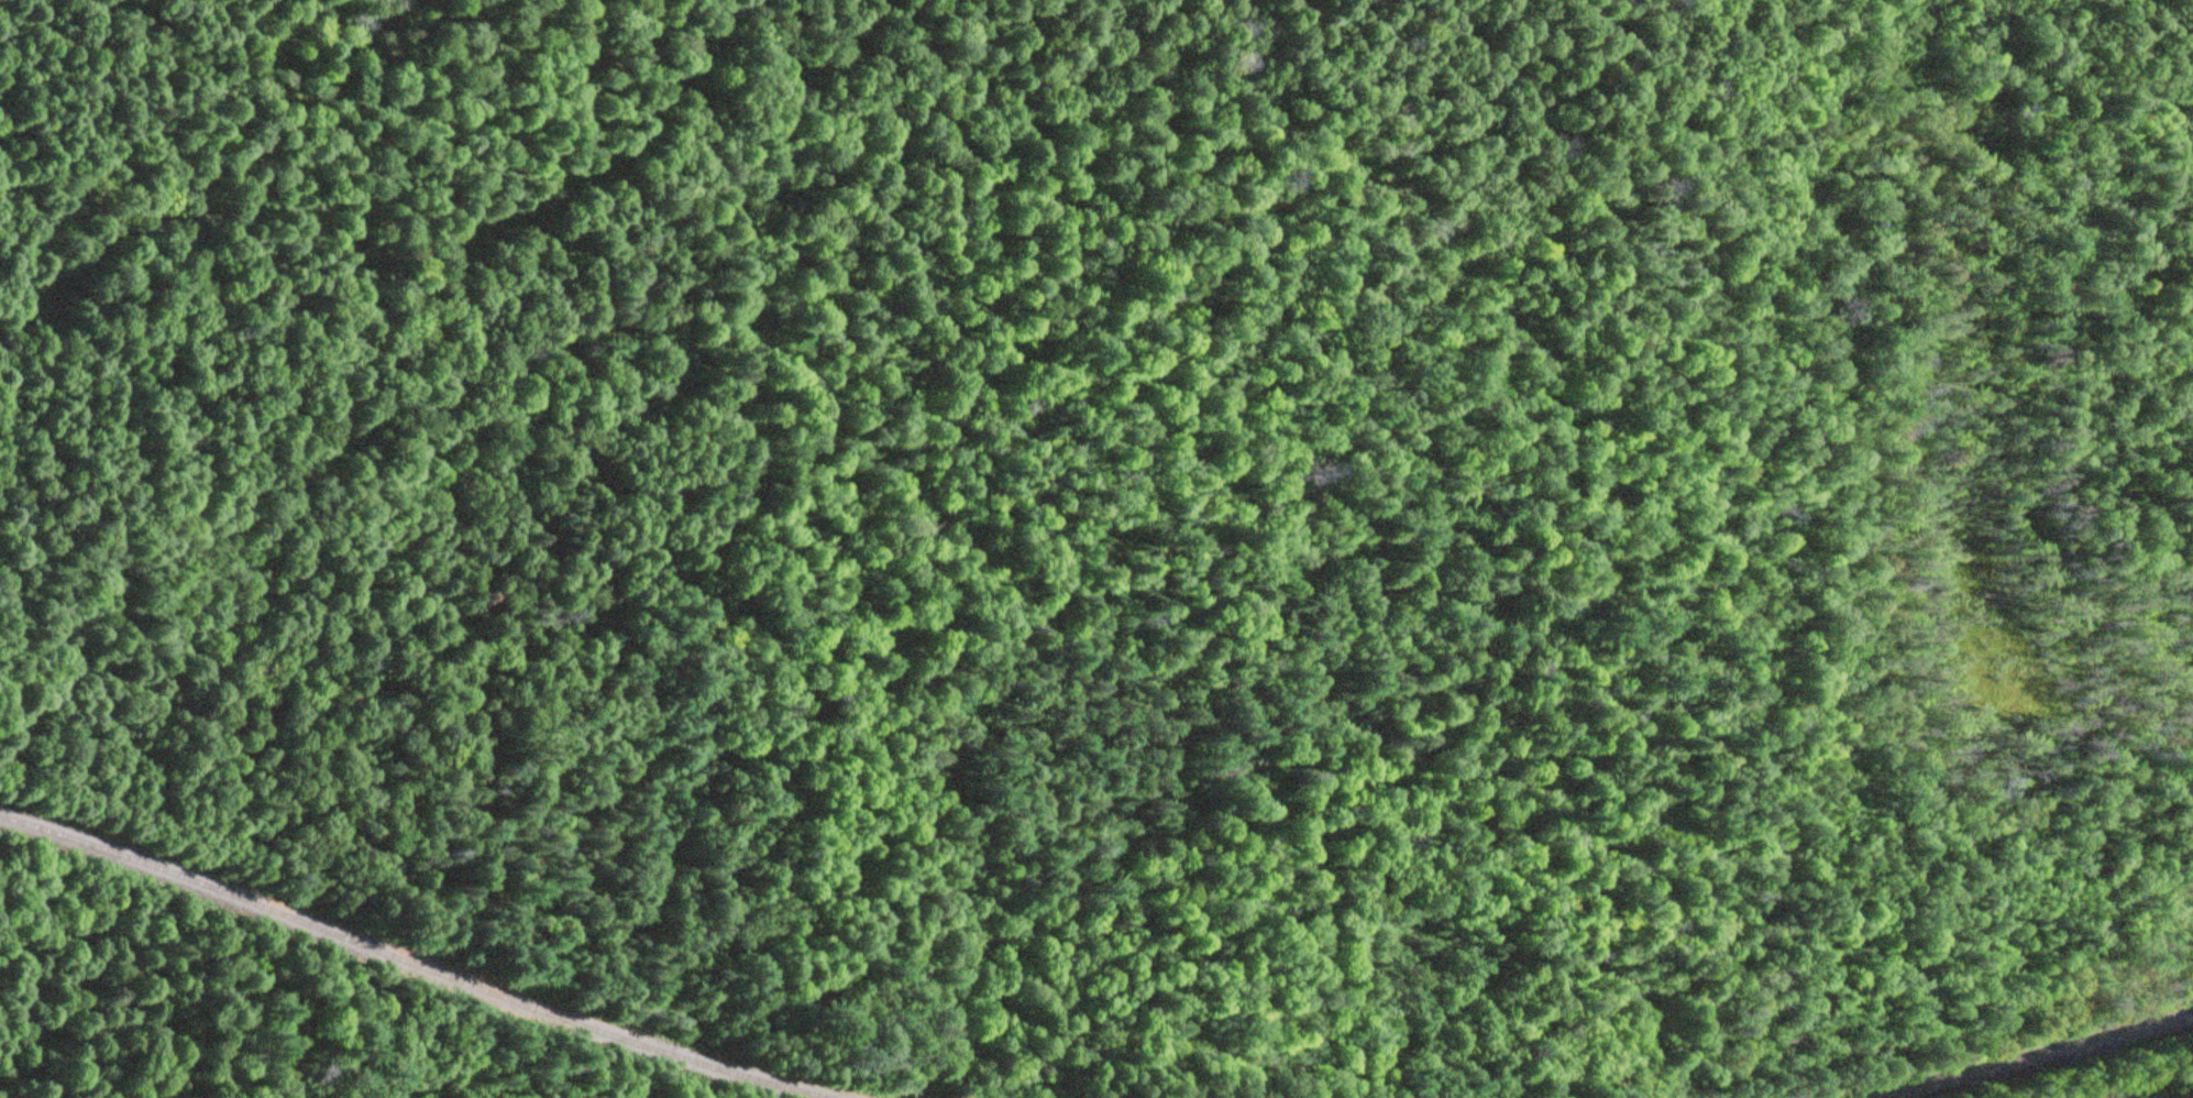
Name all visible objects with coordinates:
railway: (407, 965)
railway: (2038, 1058)

